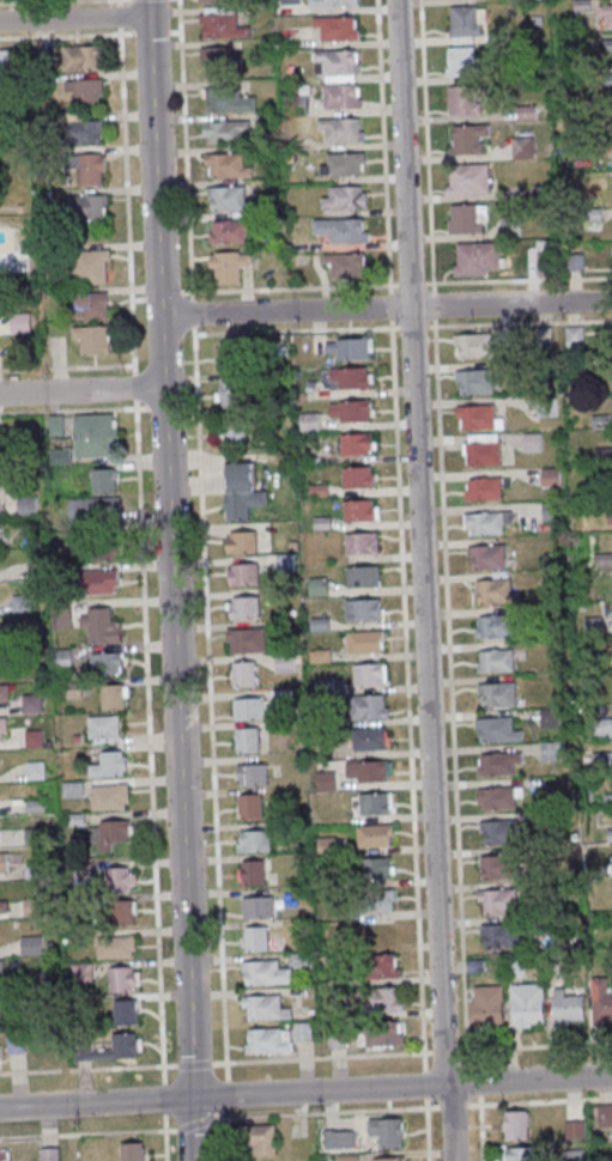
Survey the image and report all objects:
park: (1, 0)
road: (120, 1)
building: (219, 1)
building: (290, 1)
building: (333, 2)
building: (606, 13)
road: (120, 14)
road: (74, 19)
building: (223, 22)
building: (467, 23)
building: (338, 28)
building: (83, 57)
building: (220, 60)
building: (461, 60)
building: (608, 62)
building: (337, 65)
building: (85, 92)
building: (343, 96)
building: (229, 99)
building: (463, 99)
building: (299, 104)
building: (343, 128)
building: (226, 132)
building: (86, 133)
building: (469, 139)
building: (523, 146)
building: (345, 164)
building: (228, 165)
building: (91, 169)
building: (468, 178)
building: (344, 196)
building: (229, 197)
building: (87, 206)
building: (467, 219)
building: (510, 225)
building: (343, 229)
building: (229, 230)
building: (543, 257)
building: (477, 259)
building: (346, 263)
building: (229, 265)
building: (91, 266)
building: (92, 305)
road: (386, 308)
building: (20, 322)
building: (575, 333)
building: (93, 338)
building: (474, 345)
building: (349, 348)
building: (235, 355)
building: (351, 377)
building: (474, 381)
road: (81, 390)
building: (235, 395)
building: (352, 409)
building: (477, 417)
building: (234, 432)
building: (96, 434)
building: (533, 442)
building: (358, 443)
building: (483, 449)
building: (359, 476)
building: (551, 476)
building: (104, 480)
building: (484, 488)
building: (241, 491)
building: (28, 504)
building: (98, 507)
building: (360, 510)
building: (552, 511)
building: (487, 522)
road: (202, 540)
building: (242, 541)
building: (362, 542)
building: (105, 548)
building: (486, 557)
building: (604, 559)
building: (243, 573)
building: (363, 576)
building: (101, 580)
road: (171, 580)
road: (422, 580)
building: (316, 586)
building: (495, 590)
road: (144, 592)
building: (22, 602)
building: (244, 607)
building: (363, 609)
building: (102, 625)
building: (493, 626)
building: (247, 639)
building: (365, 642)
building: (495, 659)
building: (105, 663)
building: (285, 663)
building: (244, 673)
building: (370, 674)
building: (4, 692)
building: (497, 694)
building: (114, 695)
building: (32, 703)
building: (370, 706)
building: (248, 707)
building: (604, 727)
building: (104, 728)
building: (497, 729)
building: (2, 730)
building: (247, 738)
building: (371, 738)
building: (552, 752)
building: (499, 762)
building: (110, 765)
building: (369, 771)
building: (252, 773)
building: (326, 780)
building: (110, 796)
building: (498, 797)
building: (376, 803)
building: (248, 806)
building: (109, 832)
building: (498, 832)
building: (375, 835)
building: (254, 840)
building: (327, 844)
building: (4, 862)
building: (499, 867)
building: (377, 868)
building: (35, 869)
building: (252, 871)
building: (120, 879)
building: (377, 900)
building: (497, 900)
building: (2, 906)
building: (32, 906)
building: (257, 906)
building: (123, 912)
building: (499, 935)
building: (255, 938)
building: (31, 944)
building: (116, 947)
building: (386, 965)
building: (1, 966)
building: (515, 966)
building: (265, 973)
building: (125, 978)
building: (388, 998)
building: (601, 999)
building: (528, 1004)
building: (487, 1005)
building: (265, 1007)
building: (568, 1007)
building: (126, 1011)
building: (383, 1033)
building: (268, 1040)
building: (123, 1046)
road: (320, 1058)
road: (193, 1063)
road: (87, 1068)
road: (305, 1092)
road: (223, 1095)
road: (219, 1114)
building: (605, 1114)
road: (217, 1119)
building: (517, 1125)
building: (575, 1126)
building: (388, 1130)
road: (219, 1139)
building: (263, 1139)
building: (133, 1151)
building: (521, 1153)
building: (2, 1154)
building: (49, 1154)
building: (572, 1155)
building: (389, 1159)

